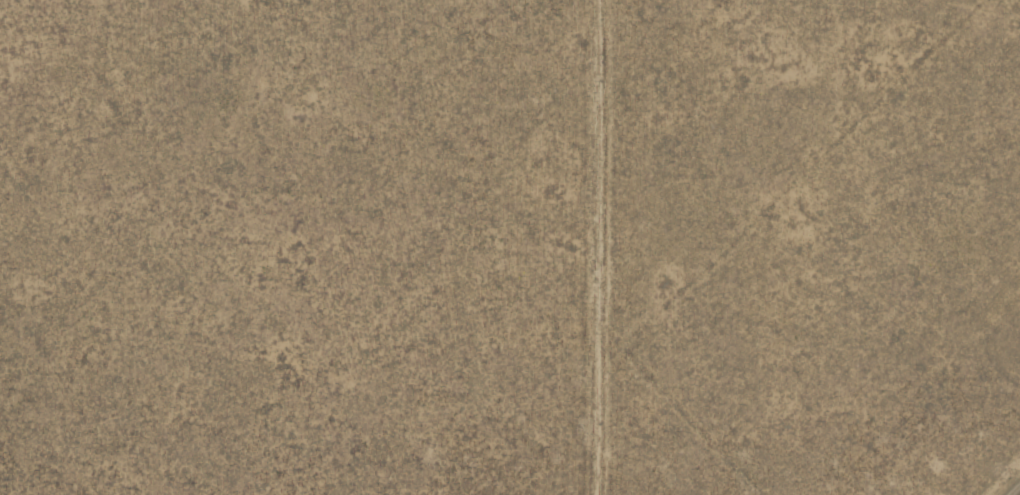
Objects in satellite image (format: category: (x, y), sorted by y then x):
airport: (805, 247)

